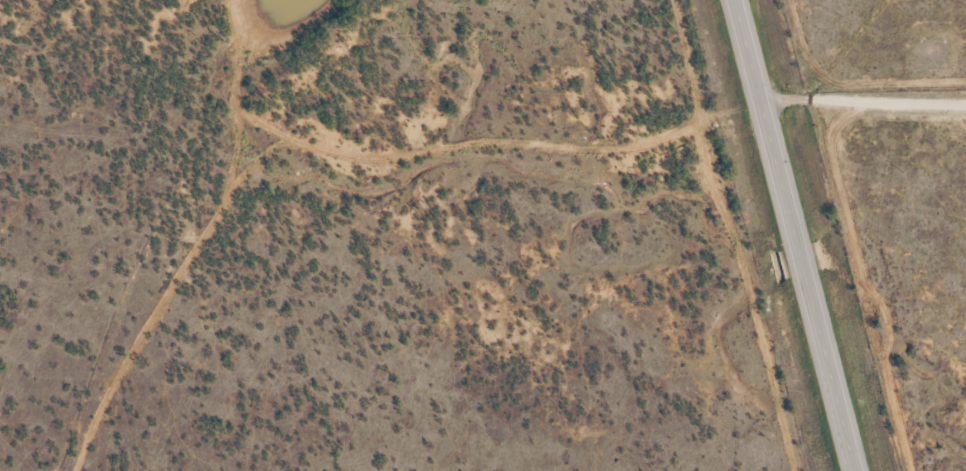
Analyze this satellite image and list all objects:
road: (863, 102)
road: (792, 235)

